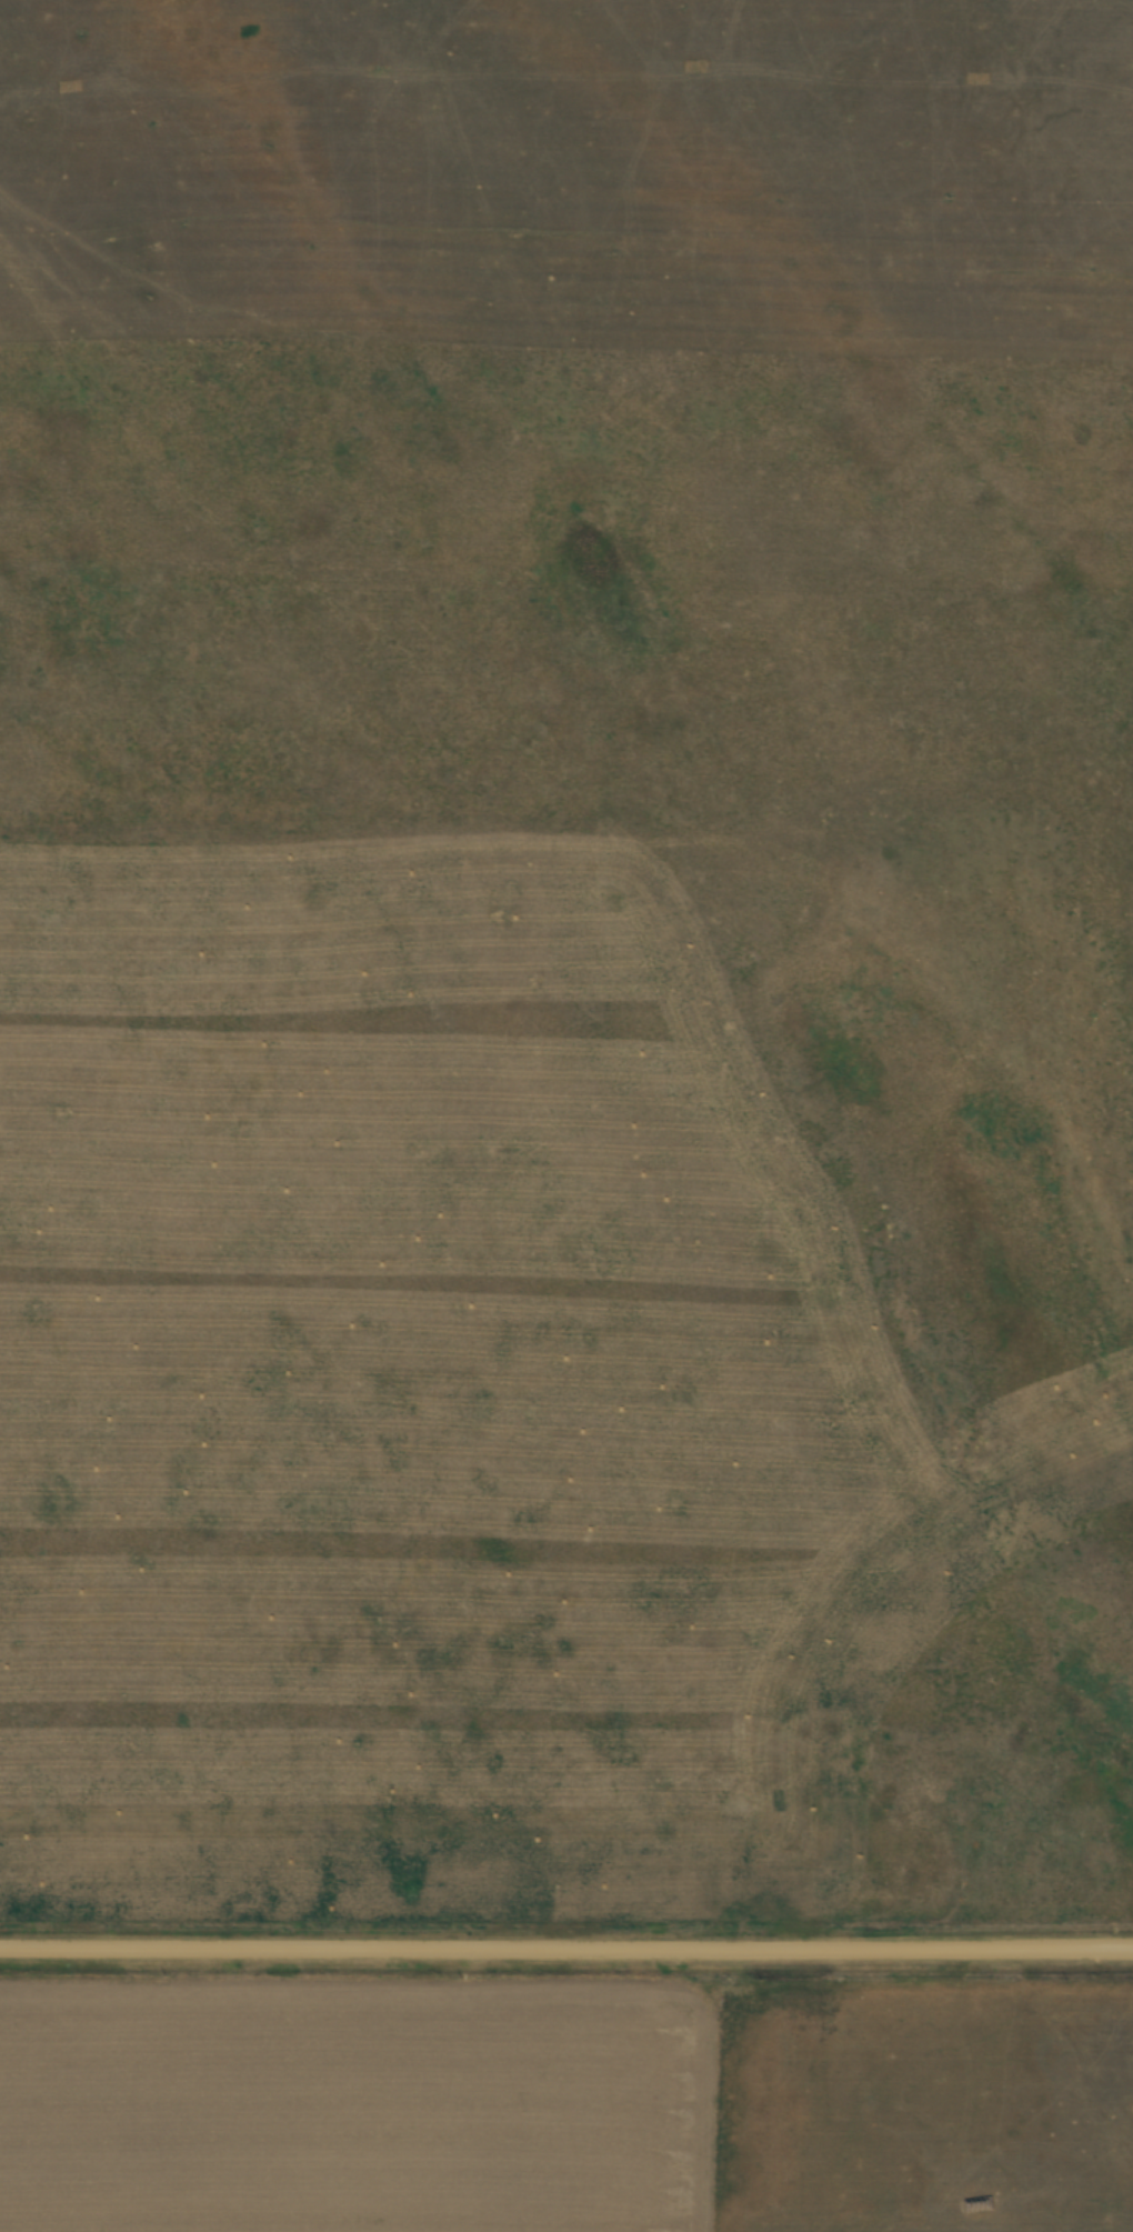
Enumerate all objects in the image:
road: (566, 1951)
crop: (357, 2110)

